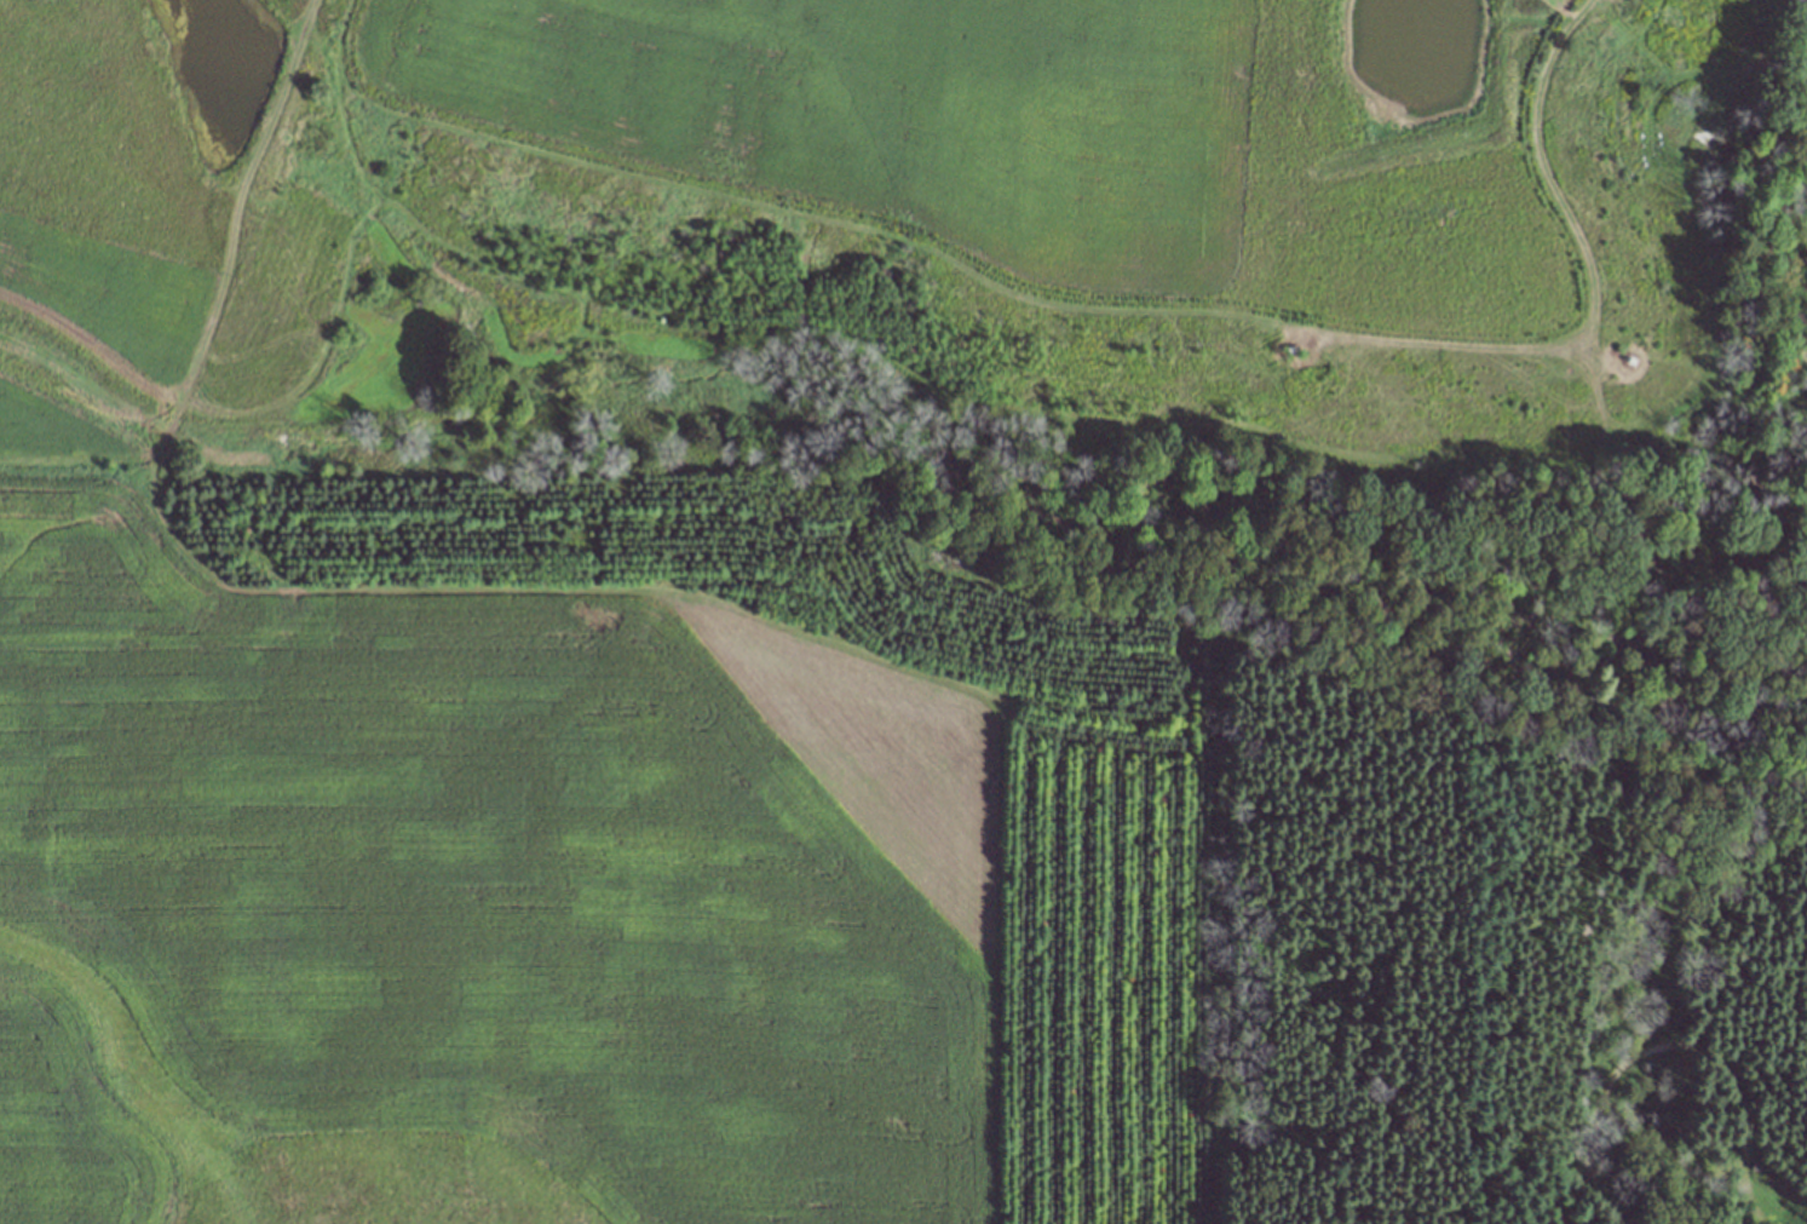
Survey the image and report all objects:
road: (1737, 1101)
road: (1592, 1115)
road: (1738, 1195)
building: (1779, 1209)

